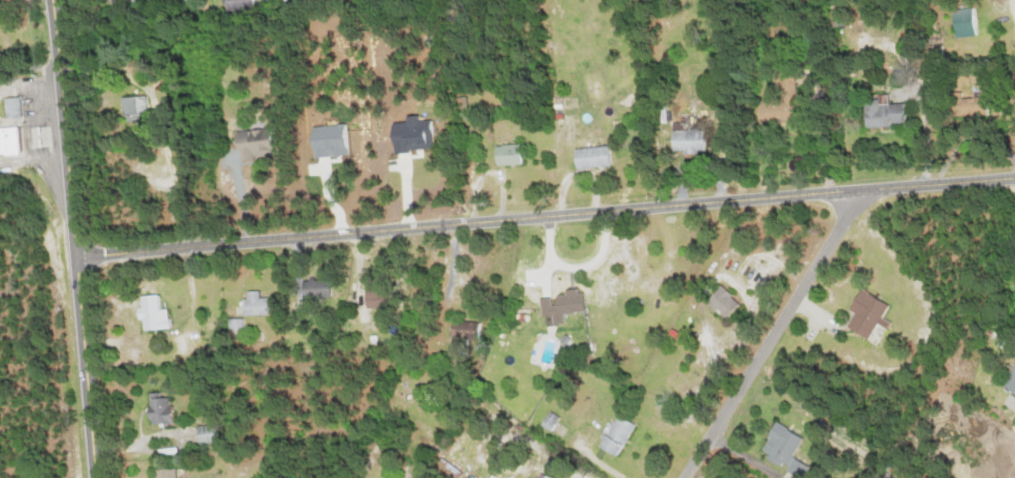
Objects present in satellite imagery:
building: (244, 3)
building: (963, 21)
building: (137, 104)
building: (963, 104)
building: (16, 106)
building: (781, 109)
building: (891, 113)
building: (418, 133)
building: (12, 139)
building: (335, 139)
building: (694, 140)
building: (261, 142)
building: (513, 153)
building: (597, 155)
road: (547, 219)
road: (77, 238)
building: (322, 288)
building: (382, 297)
building: (727, 300)
building: (259, 302)
building: (566, 306)
building: (157, 312)
building: (872, 312)
building: (239, 324)
building: (470, 331)
road: (776, 335)
building: (1009, 381)
building: (164, 408)
building: (554, 419)
building: (212, 432)
building: (622, 434)
building: (789, 448)
building: (969, 454)
building: (170, 472)
building: (553, 476)
building: (479, 477)

